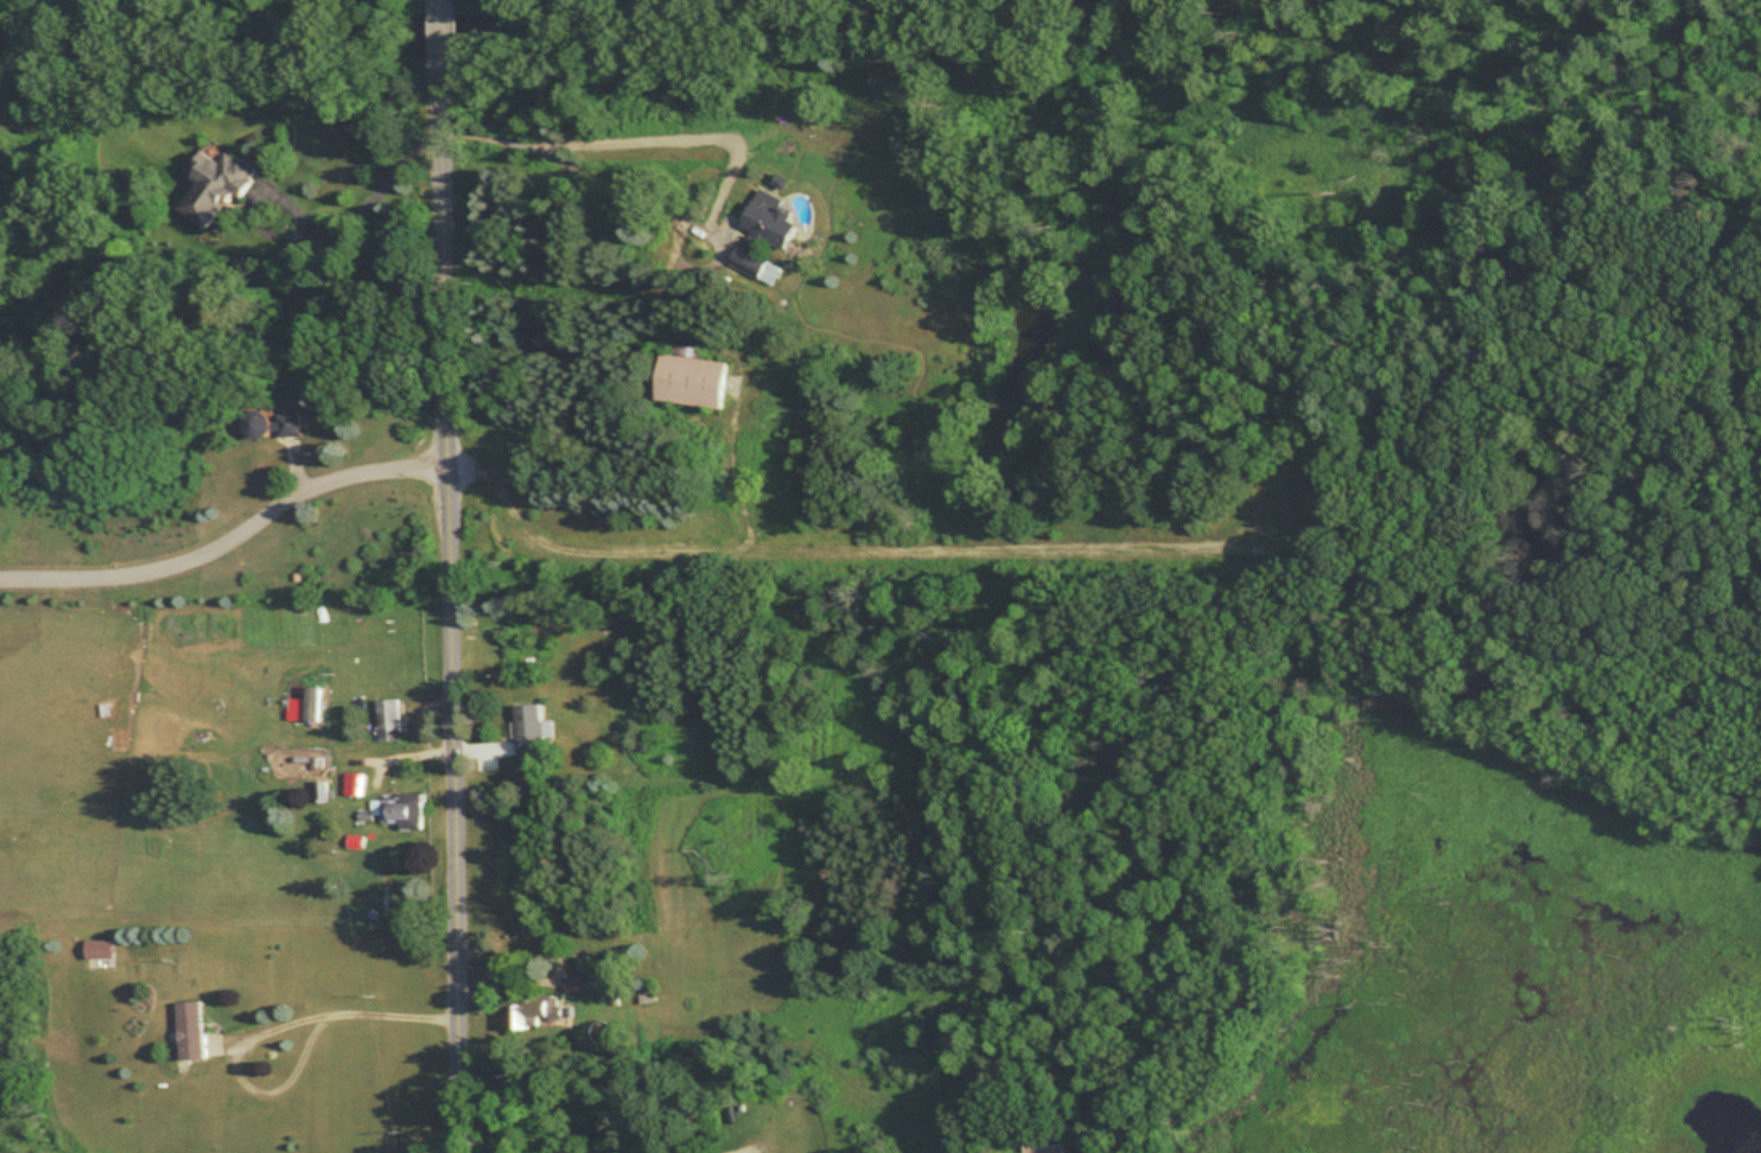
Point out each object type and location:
river: (498, 24)
road: (443, 31)
road: (568, 165)
building: (220, 185)
road: (446, 221)
road: (314, 225)
building: (769, 237)
building: (694, 380)
building: (276, 426)
road: (231, 543)
building: (316, 706)
building: (390, 722)
building: (532, 732)
road: (453, 766)
building: (356, 786)
building: (403, 813)
building: (102, 951)
building: (599, 983)
building: (647, 1000)
road: (388, 1009)
building: (536, 1013)
building: (192, 1033)
road: (235, 1075)
building: (1045, 1144)
road: (573, 1151)

